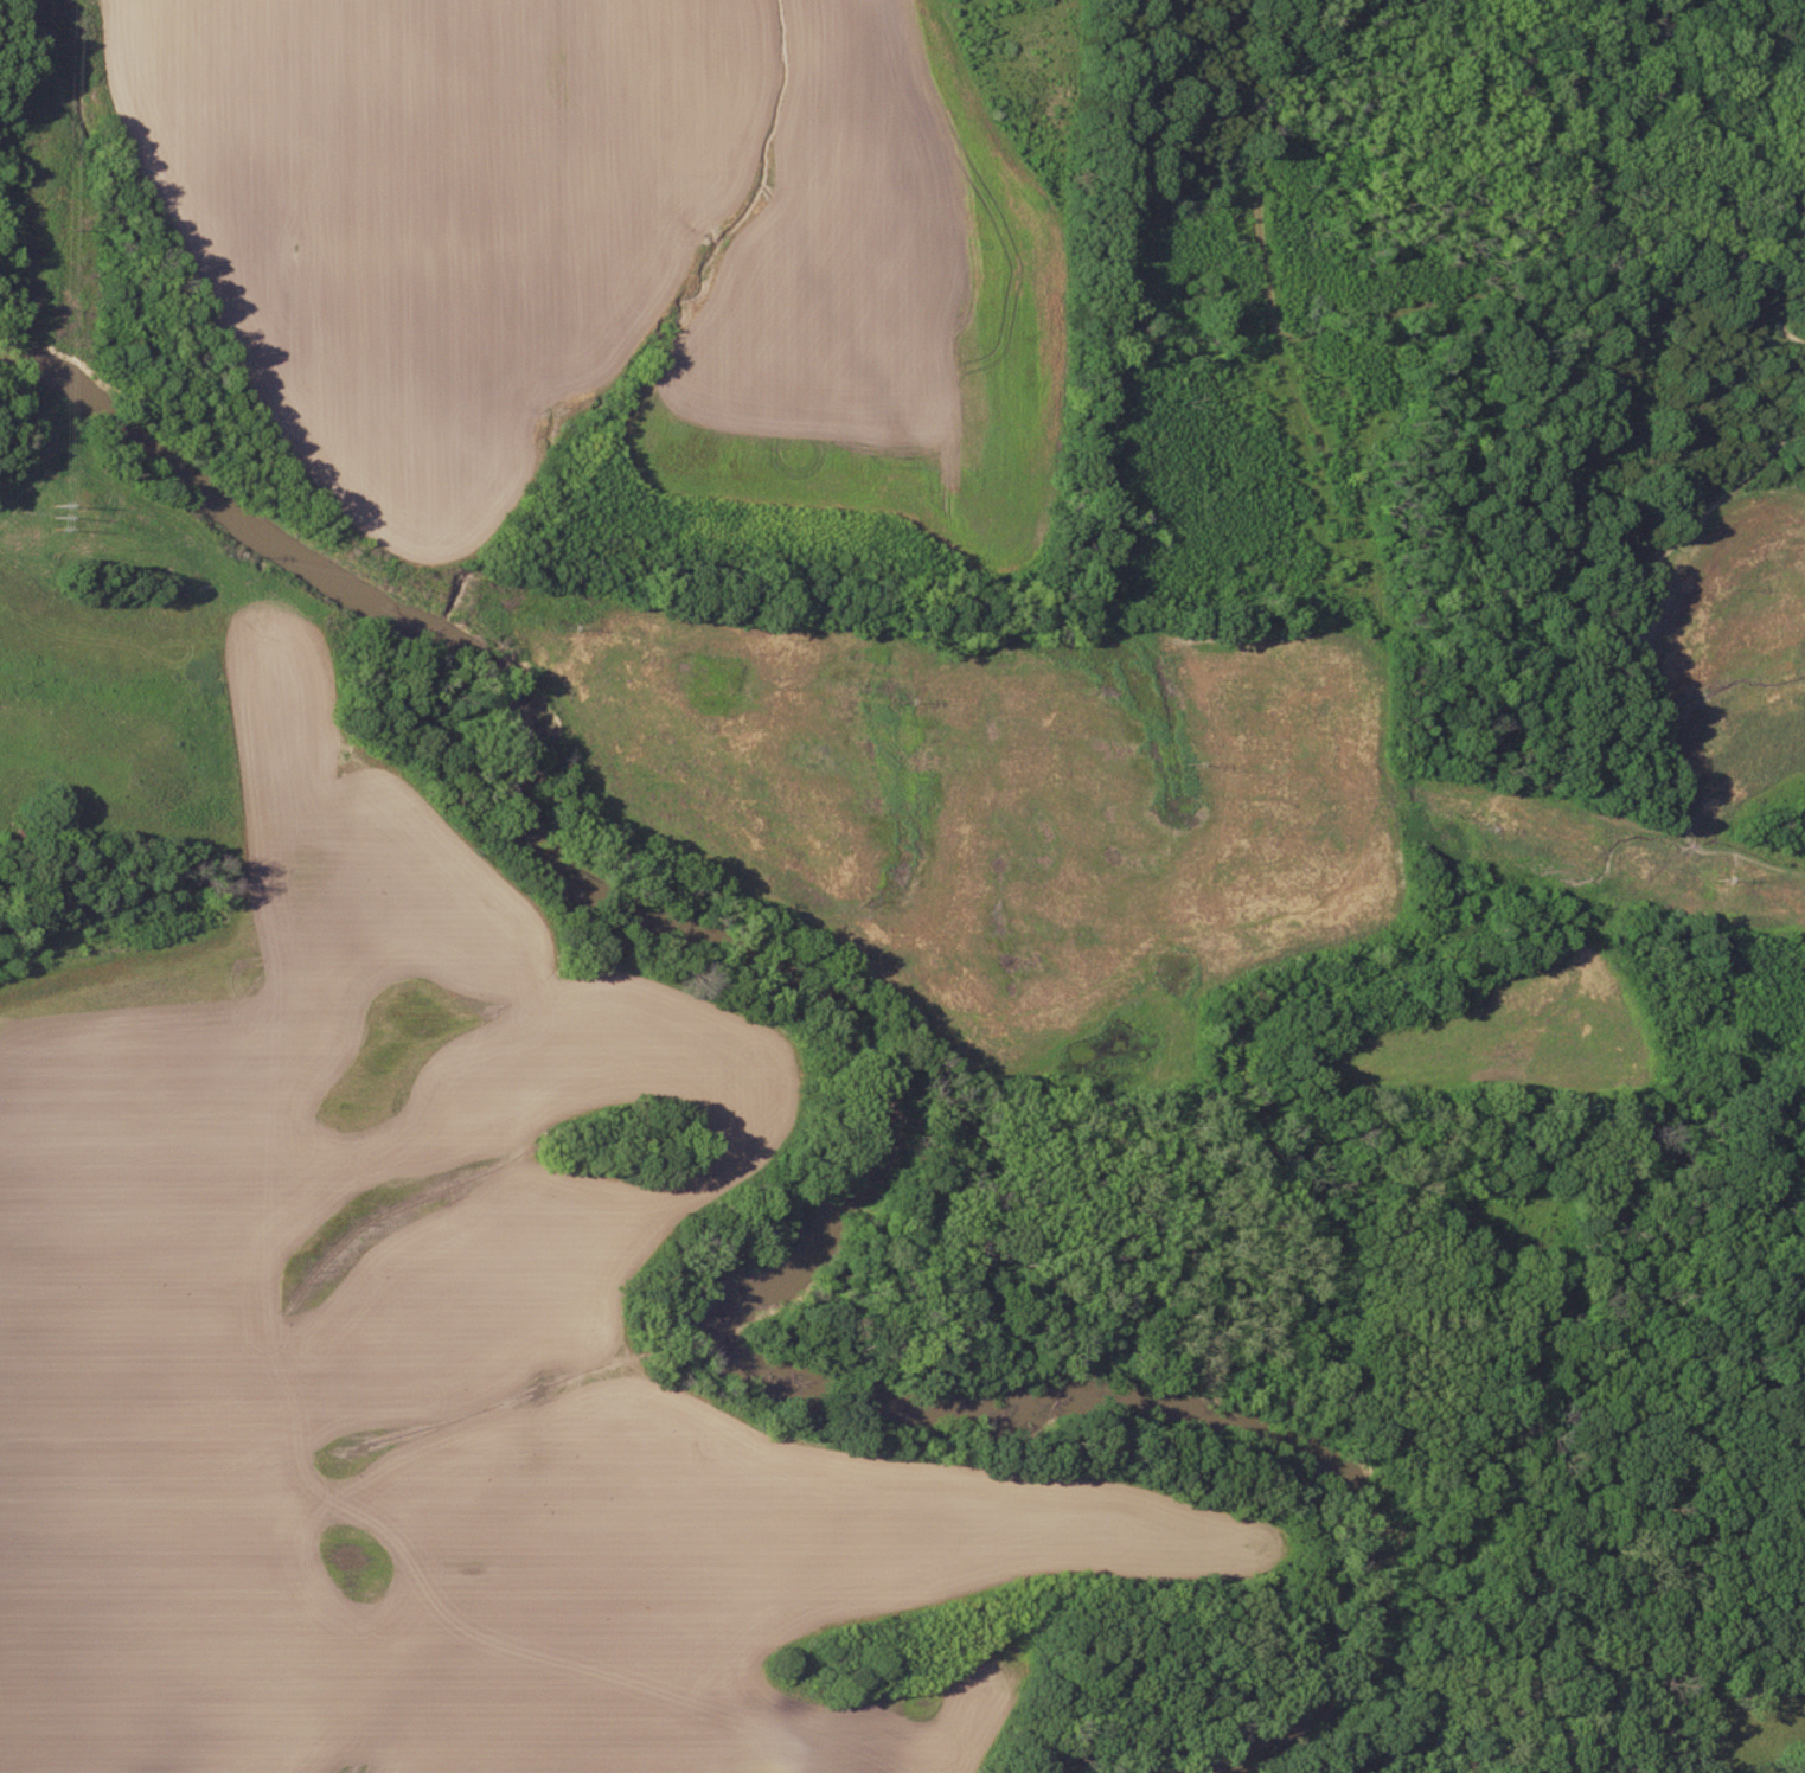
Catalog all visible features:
river: (853, 1173)

